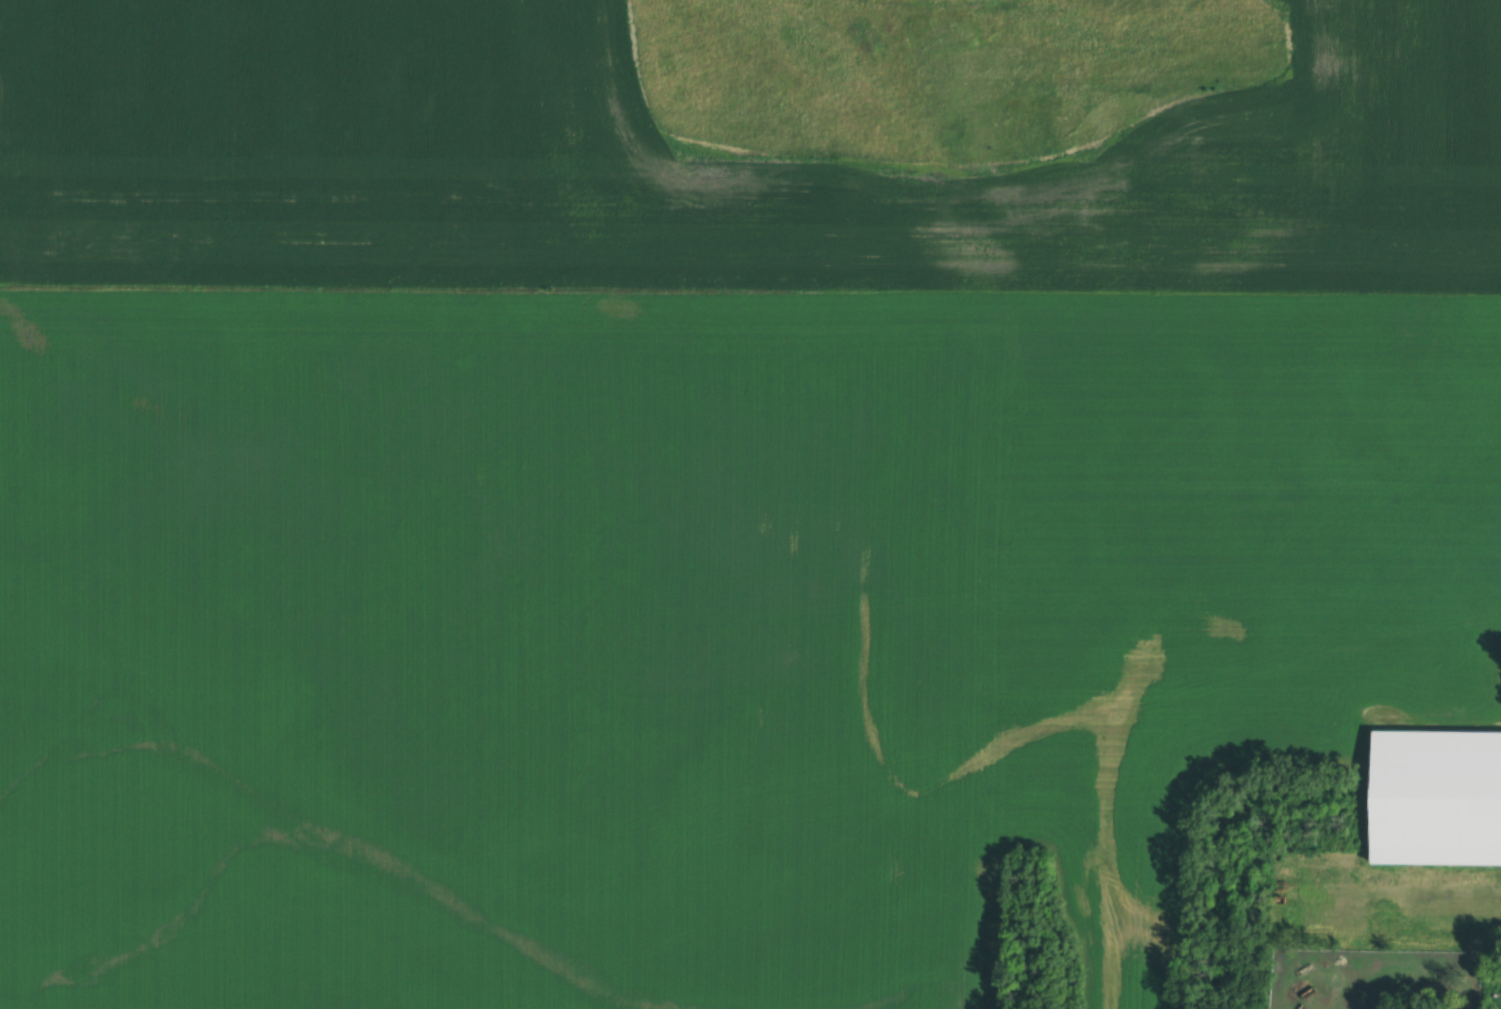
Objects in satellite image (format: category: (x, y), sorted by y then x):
building: (1442, 799)

